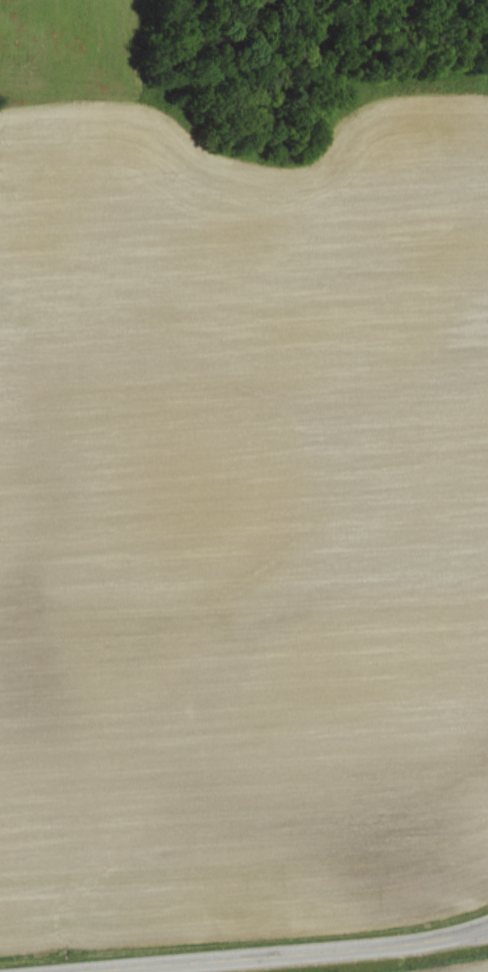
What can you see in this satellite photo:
road: (289, 955)

